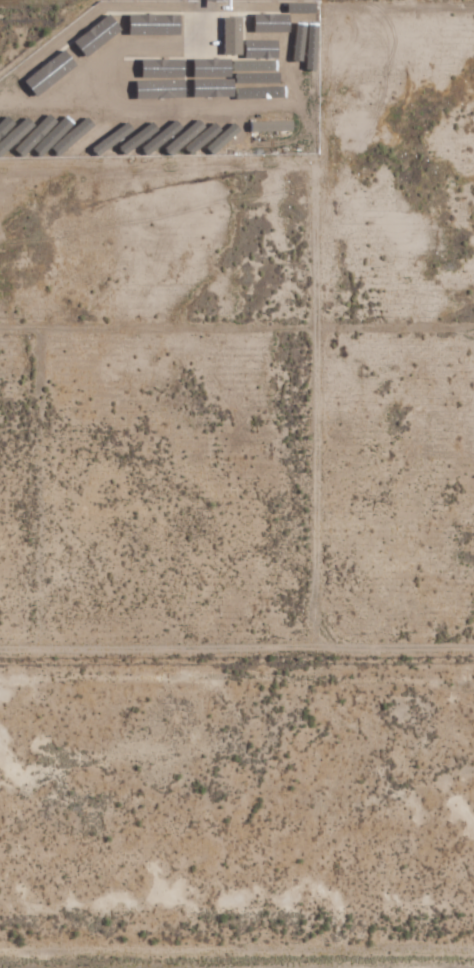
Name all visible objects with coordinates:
building: (228, 34)
building: (268, 125)

